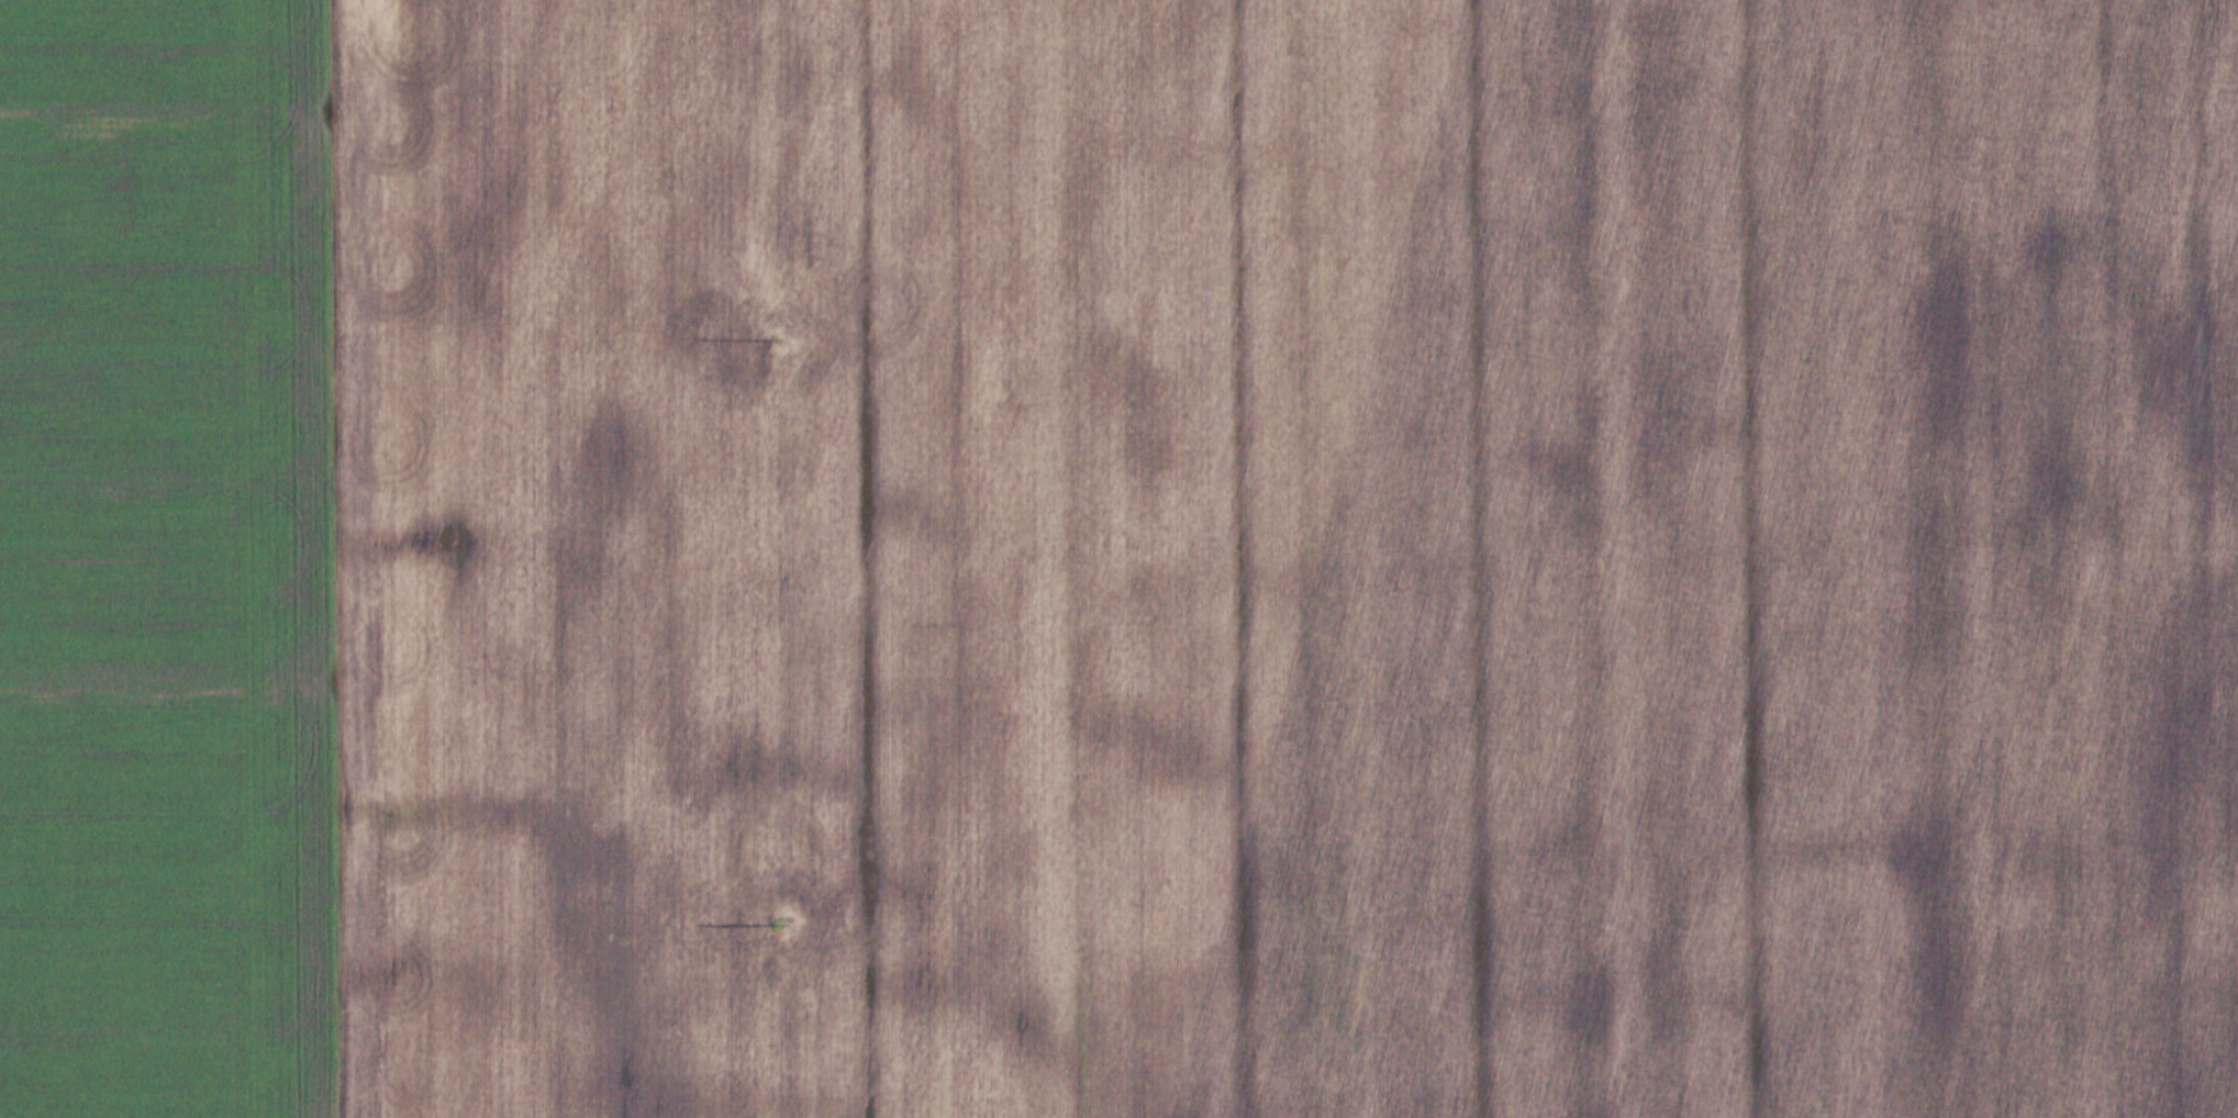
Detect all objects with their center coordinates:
power tower: (773, 338)
crop: (1289, 558)
crop: (169, 562)
power tower: (775, 921)

